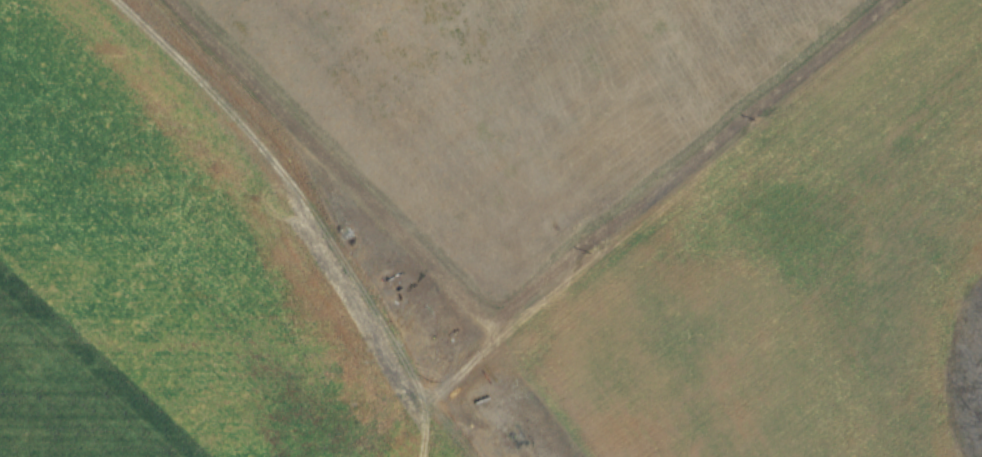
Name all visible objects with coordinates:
crop: (514, 111)
road: (310, 205)
road: (663, 214)
crop: (146, 260)
crop: (750, 275)
crop: (412, 447)

